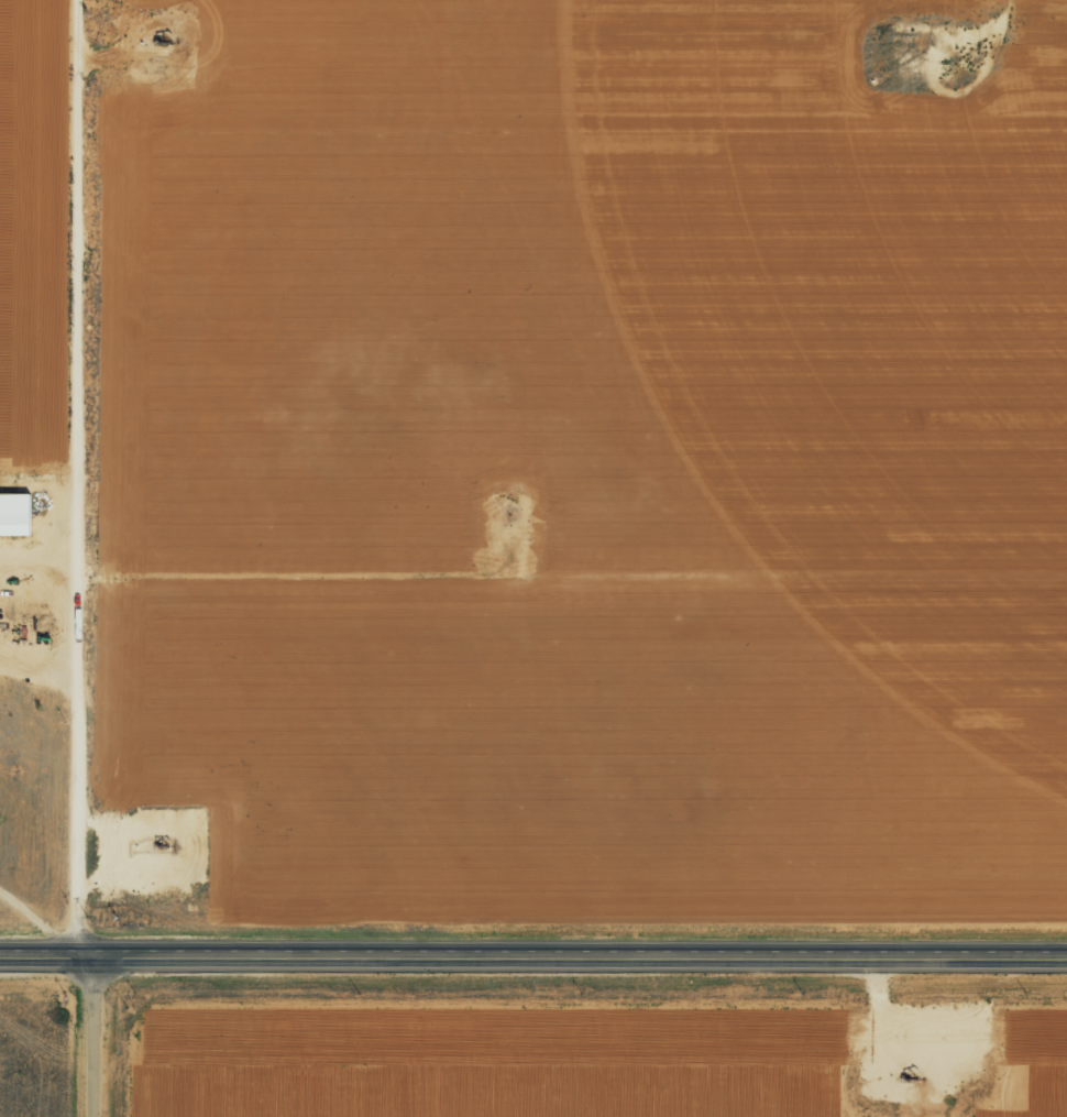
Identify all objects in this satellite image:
petroleum well: (154, 43)
road: (90, 478)
road: (302, 620)
petroleum well: (162, 839)
road: (532, 957)
road: (92, 1037)
petroleum well: (922, 1066)

